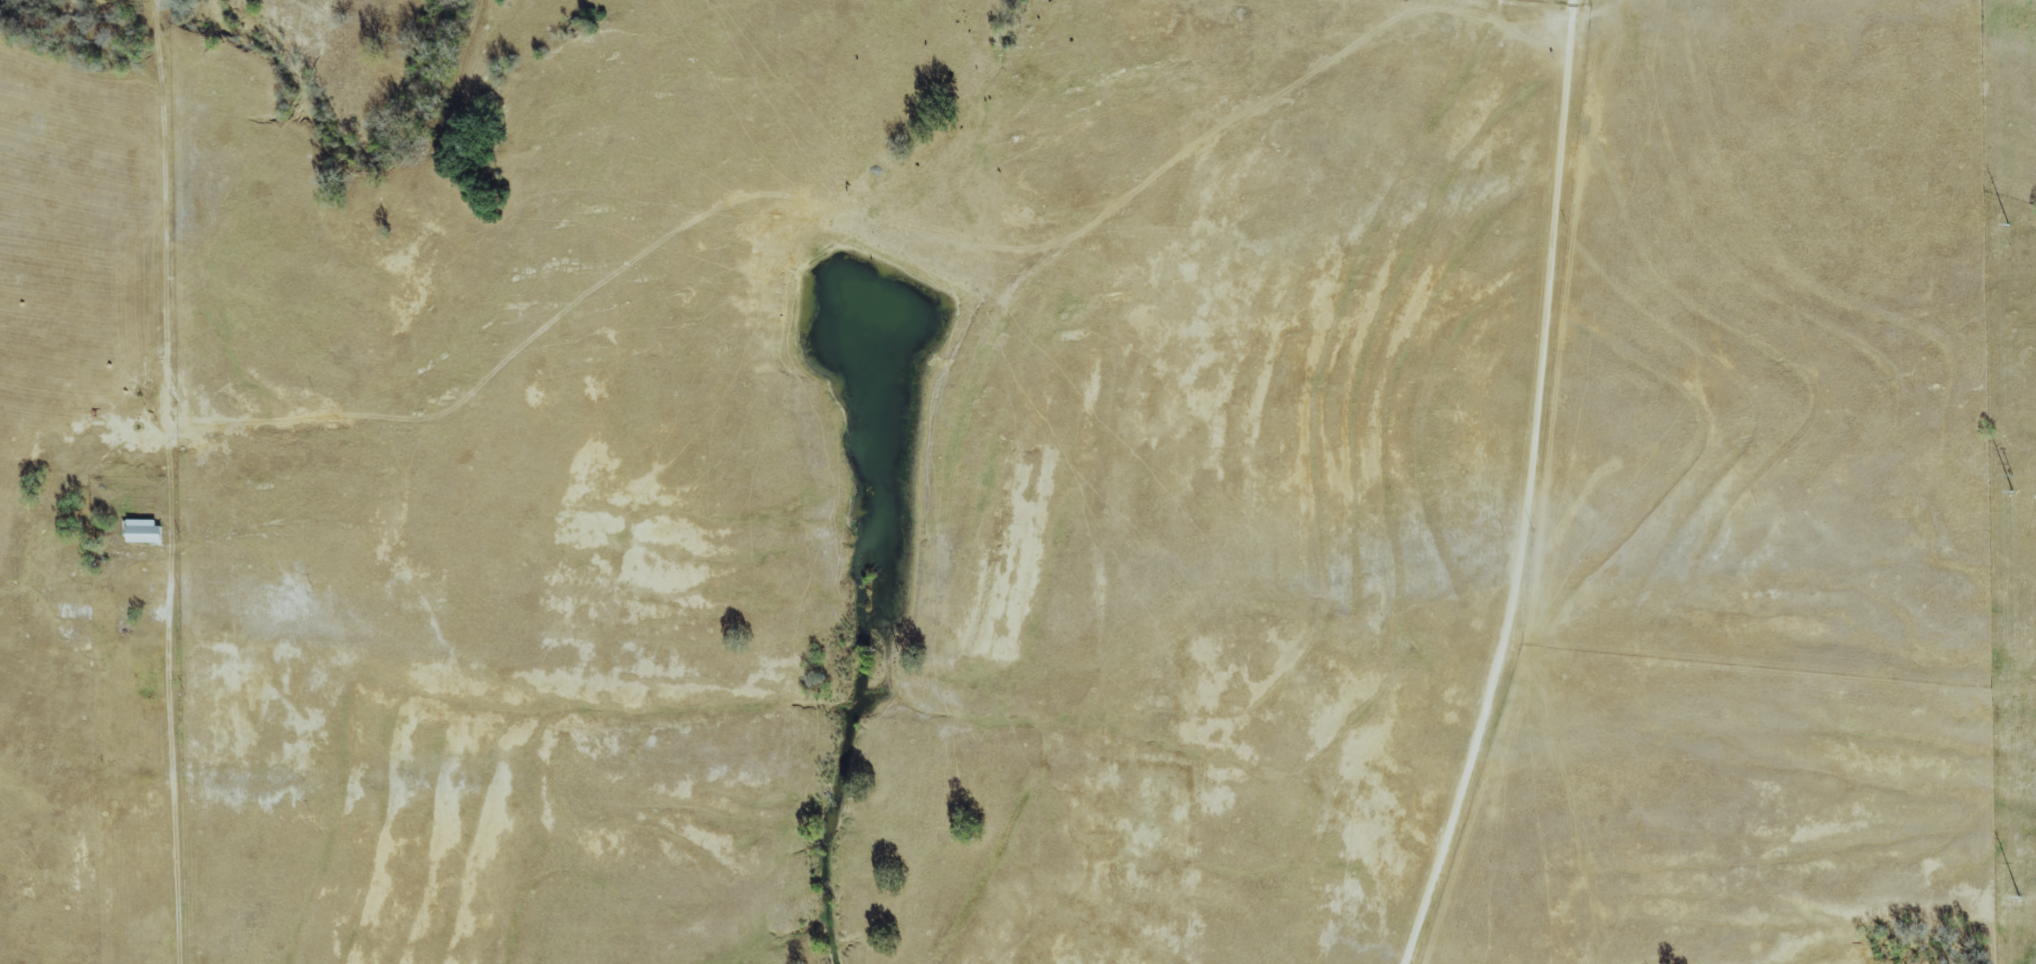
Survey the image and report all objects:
power tower: (2008, 226)
road: (1530, 490)
power tower: (2012, 491)
building: (146, 530)
road: (172, 770)
power tower: (2018, 898)

